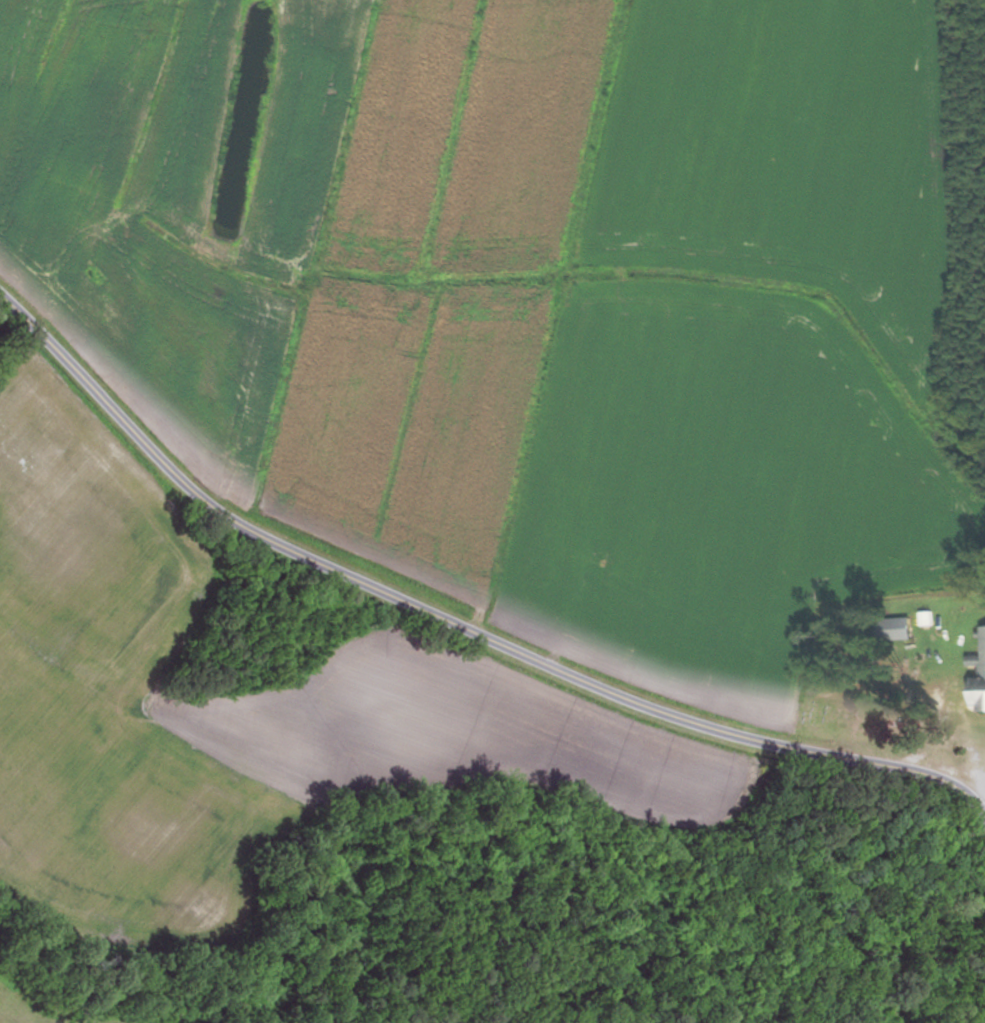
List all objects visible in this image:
building: (895, 628)
road: (456, 629)
building: (978, 677)
park: (852, 697)

